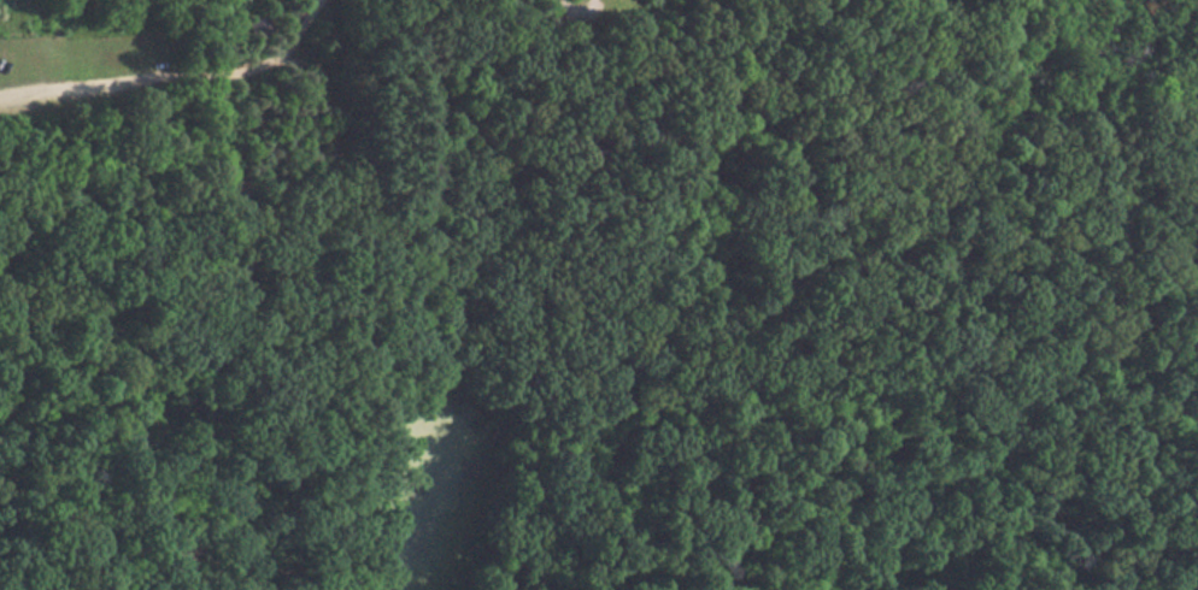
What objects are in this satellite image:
parking lot: (582, 12)
road: (331, 41)
road: (175, 75)
building: (582, 154)
road: (296, 178)

